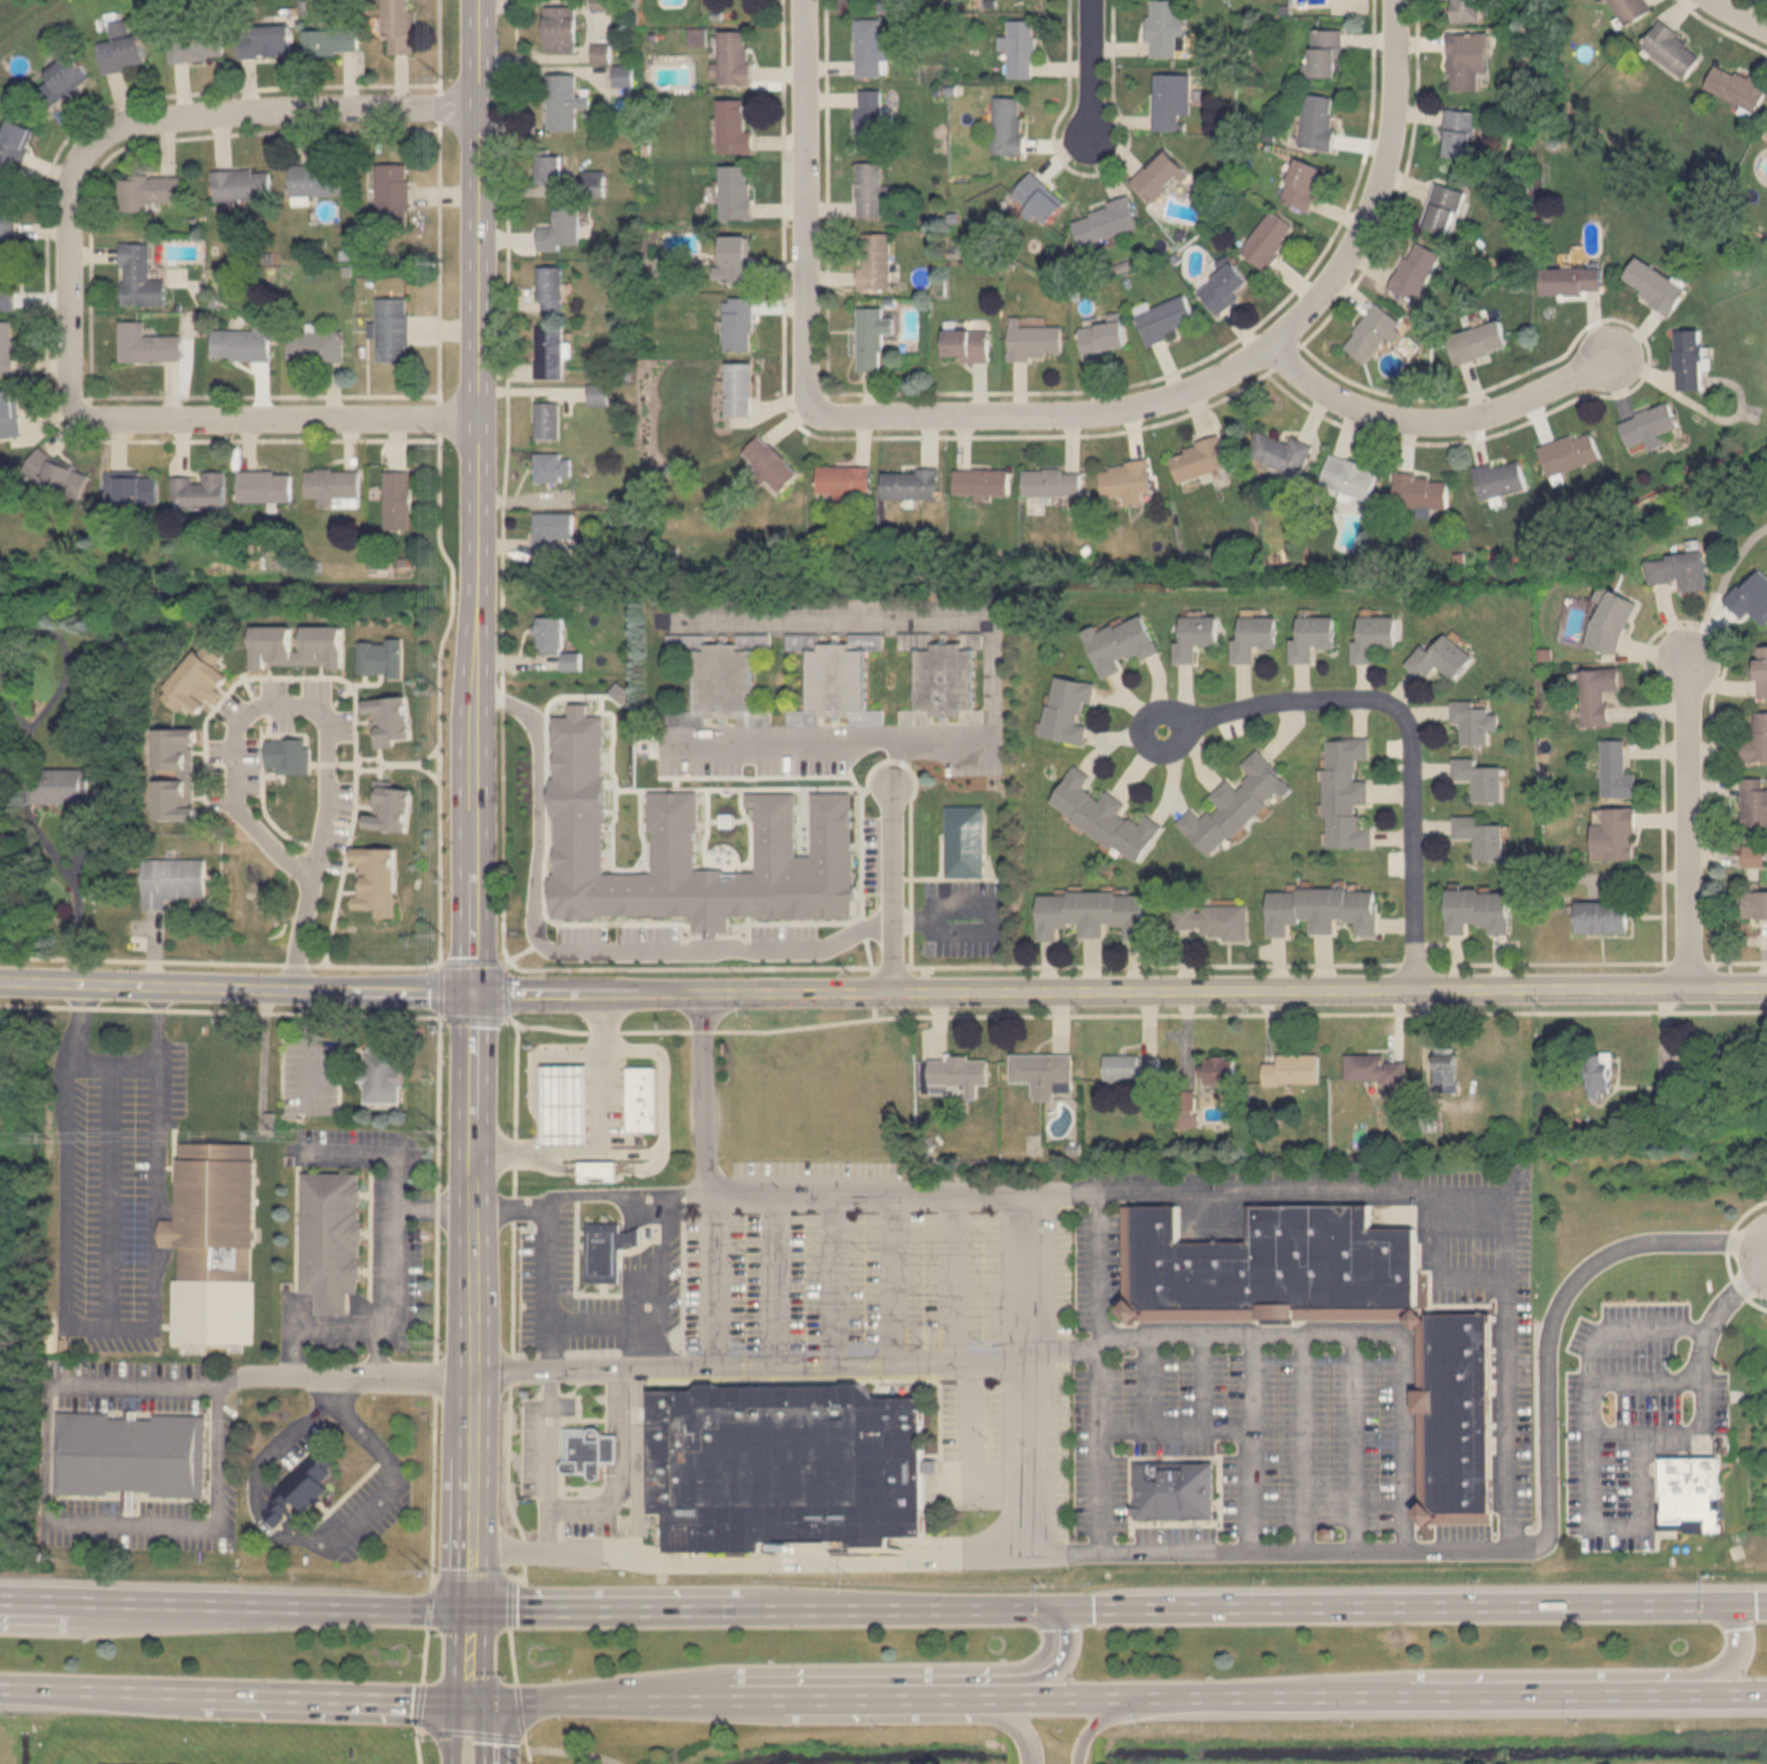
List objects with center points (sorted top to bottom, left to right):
building: (1464, 4)
building: (1632, 7)
road: (1746, 11)
building: (1163, 23)
building: (559, 24)
building: (397, 25)
building: (262, 39)
building: (329, 40)
building: (196, 42)
building: (867, 43)
building: (1019, 43)
building: (600, 46)
building: (120, 48)
building: (1673, 49)
building: (1323, 50)
building: (734, 55)
building: (1468, 61)
road: (1089, 68)
building: (623, 70)
building: (61, 77)
building: (1737, 87)
building: (1170, 94)
building: (565, 99)
road: (281, 109)
building: (869, 114)
building: (1313, 118)
building: (1007, 120)
building: (731, 124)
building: (1455, 135)
building: (15, 144)
building: (546, 165)
building: (1157, 172)
building: (317, 177)
building: (1299, 181)
building: (239, 182)
building: (872, 186)
building: (389, 190)
building: (733, 190)
building: (146, 191)
building: (1037, 191)
road: (802, 202)
building: (1440, 213)
building: (5, 217)
building: (1107, 217)
building: (563, 228)
building: (1268, 235)
building: (734, 257)
building: (874, 257)
building: (1413, 270)
road: (68, 276)
building: (138, 276)
building: (1569, 277)
building: (5, 279)
building: (549, 282)
building: (1228, 284)
building: (1652, 284)
building: (1163, 315)
building: (737, 322)
building: (392, 324)
building: (1369, 331)
building: (870, 333)
building: (1102, 336)
building: (1034, 337)
building: (239, 341)
building: (963, 341)
building: (144, 342)
building: (1472, 342)
building: (313, 343)
building: (6, 346)
building: (551, 348)
road: (471, 353)
building: (1689, 358)
road: (1235, 369)
building: (739, 386)
building: (597, 396)
building: (8, 412)
building: (546, 416)
road: (273, 418)
road: (1440, 422)
building: (1648, 423)
building: (1282, 450)
building: (1569, 450)
building: (1197, 460)
building: (549, 462)
building: (768, 462)
building: (55, 472)
building: (1499, 475)
building: (1348, 478)
building: (844, 479)
building: (982, 479)
building: (1052, 479)
building: (1127, 479)
building: (910, 481)
building: (329, 483)
building: (262, 485)
building: (134, 487)
building: (1421, 489)
building: (198, 491)
building: (397, 499)
road: (430, 530)
building: (553, 530)
building: (1679, 570)
building: (1752, 596)
building: (1611, 622)
building: (547, 632)
building: (1196, 637)
building: (1254, 638)
building: (1312, 638)
building: (1374, 638)
building: (1122, 644)
building: (1440, 659)
building: (1761, 671)
road: (989, 677)
building: (943, 681)
building: (717, 684)
building: (836, 688)
building: (1598, 694)
building: (1068, 709)
road: (319, 712)
building: (1474, 722)
road: (1408, 727)
building: (1754, 741)
building: (245, 748)
road: (899, 763)
building: (1616, 771)
building: (1478, 779)
building: (57, 786)
building: (1345, 794)
building: (1754, 802)
building: (1236, 804)
building: (1104, 816)
road: (1687, 822)
building: (1614, 835)
building: (1480, 837)
building: (969, 843)
building: (697, 846)
road: (473, 849)
building: (1753, 855)
building: (171, 880)
road: (892, 884)
road: (74, 902)
building: (1755, 905)
building: (1323, 910)
building: (1477, 910)
building: (1091, 913)
building: (1603, 918)
road: (942, 919)
building: (1211, 921)
road: (572, 957)
road: (1100, 965)
road: (235, 986)
road: (1119, 990)
traffic signals: (473, 993)
road: (856, 1020)
road: (75, 1023)
road: (311, 1045)
road: (112, 1063)
parking lot: (310, 1068)
building: (1130, 1068)
building: (1370, 1068)
building: (1292, 1069)
building: (1217, 1070)
building: (1040, 1071)
building: (1446, 1071)
building: (1601, 1074)
building: (382, 1075)
building: (957, 1075)
parking lot: (616, 1092)
building: (644, 1098)
road: (661, 1098)
building: (1666, 1099)
building: (568, 1102)
building: (1186, 1106)
road: (603, 1139)
road: (153, 1158)
building: (598, 1169)
road: (684, 1188)
road: (1442, 1188)
road: (608, 1191)
road: (104, 1194)
parking lot: (120, 1201)
road: (433, 1207)
road: (509, 1207)
road: (669, 1214)
parking lot: (385, 1226)
road: (397, 1226)
road: (64, 1229)
building: (328, 1234)
building: (214, 1243)
building: (607, 1250)
road: (1727, 1252)
parking lot: (544, 1269)
road: (772, 1275)
road: (832, 1275)
road: (889, 1275)
road: (951, 1275)
road: (652, 1278)
road: (698, 1294)
road: (1731, 1298)
road: (467, 1300)
building: (1332, 1303)
road: (549, 1310)
road: (311, 1326)
road: (1355, 1334)
road: (635, 1345)
road: (560, 1346)
road: (1063, 1347)
parking lot: (1060, 1351)
road: (863, 1360)
road: (1096, 1370)
road: (264, 1377)
road: (1142, 1379)
road: (1198, 1379)
road: (1246, 1379)
parking lot: (131, 1386)
parking lot: (566, 1405)
parking lot: (1634, 1414)
road: (590, 1418)
road: (1234, 1425)
road: (1617, 1429)
road: (559, 1441)
road: (1298, 1441)
road: (1350, 1442)
parking lot: (300, 1444)
parking lot: (528, 1446)
road: (969, 1449)
building: (588, 1450)
building: (127, 1456)
road: (546, 1459)
building: (784, 1465)
road: (617, 1467)
building: (306, 1484)
road: (588, 1487)
building: (1173, 1490)
building: (1690, 1494)
parking lot: (361, 1511)
parking lot: (157, 1513)
road: (1591, 1515)
road: (202, 1522)
parking lot: (589, 1524)
road: (300, 1537)
road: (1178, 1551)
road: (748, 1561)
road: (470, 1575)
road: (14, 1599)
road: (427, 1600)
road: (507, 1600)
road: (14, 1601)
road: (246, 1606)
traffic signals: (1725, 1606)
road: (754, 1607)
traffic signals: (1043, 1607)
road: (1405, 1607)
traffic signals: (465, 1608)
road: (423, 1654)
road: (465, 1654)
road: (511, 1654)
road: (1725, 1667)
road: (1032, 1671)
road: (232, 1696)
road: (1360, 1696)
road: (709, 1699)
traffic signals: (465, 1700)
road: (417, 1703)
road: (518, 1711)
road: (1006, 1718)
road: (1090, 1724)
road: (454, 1731)
road: (477, 1731)
road: (468, 1732)
road: (524, 1744)
road: (571, 1751)
road: (527, 1757)

